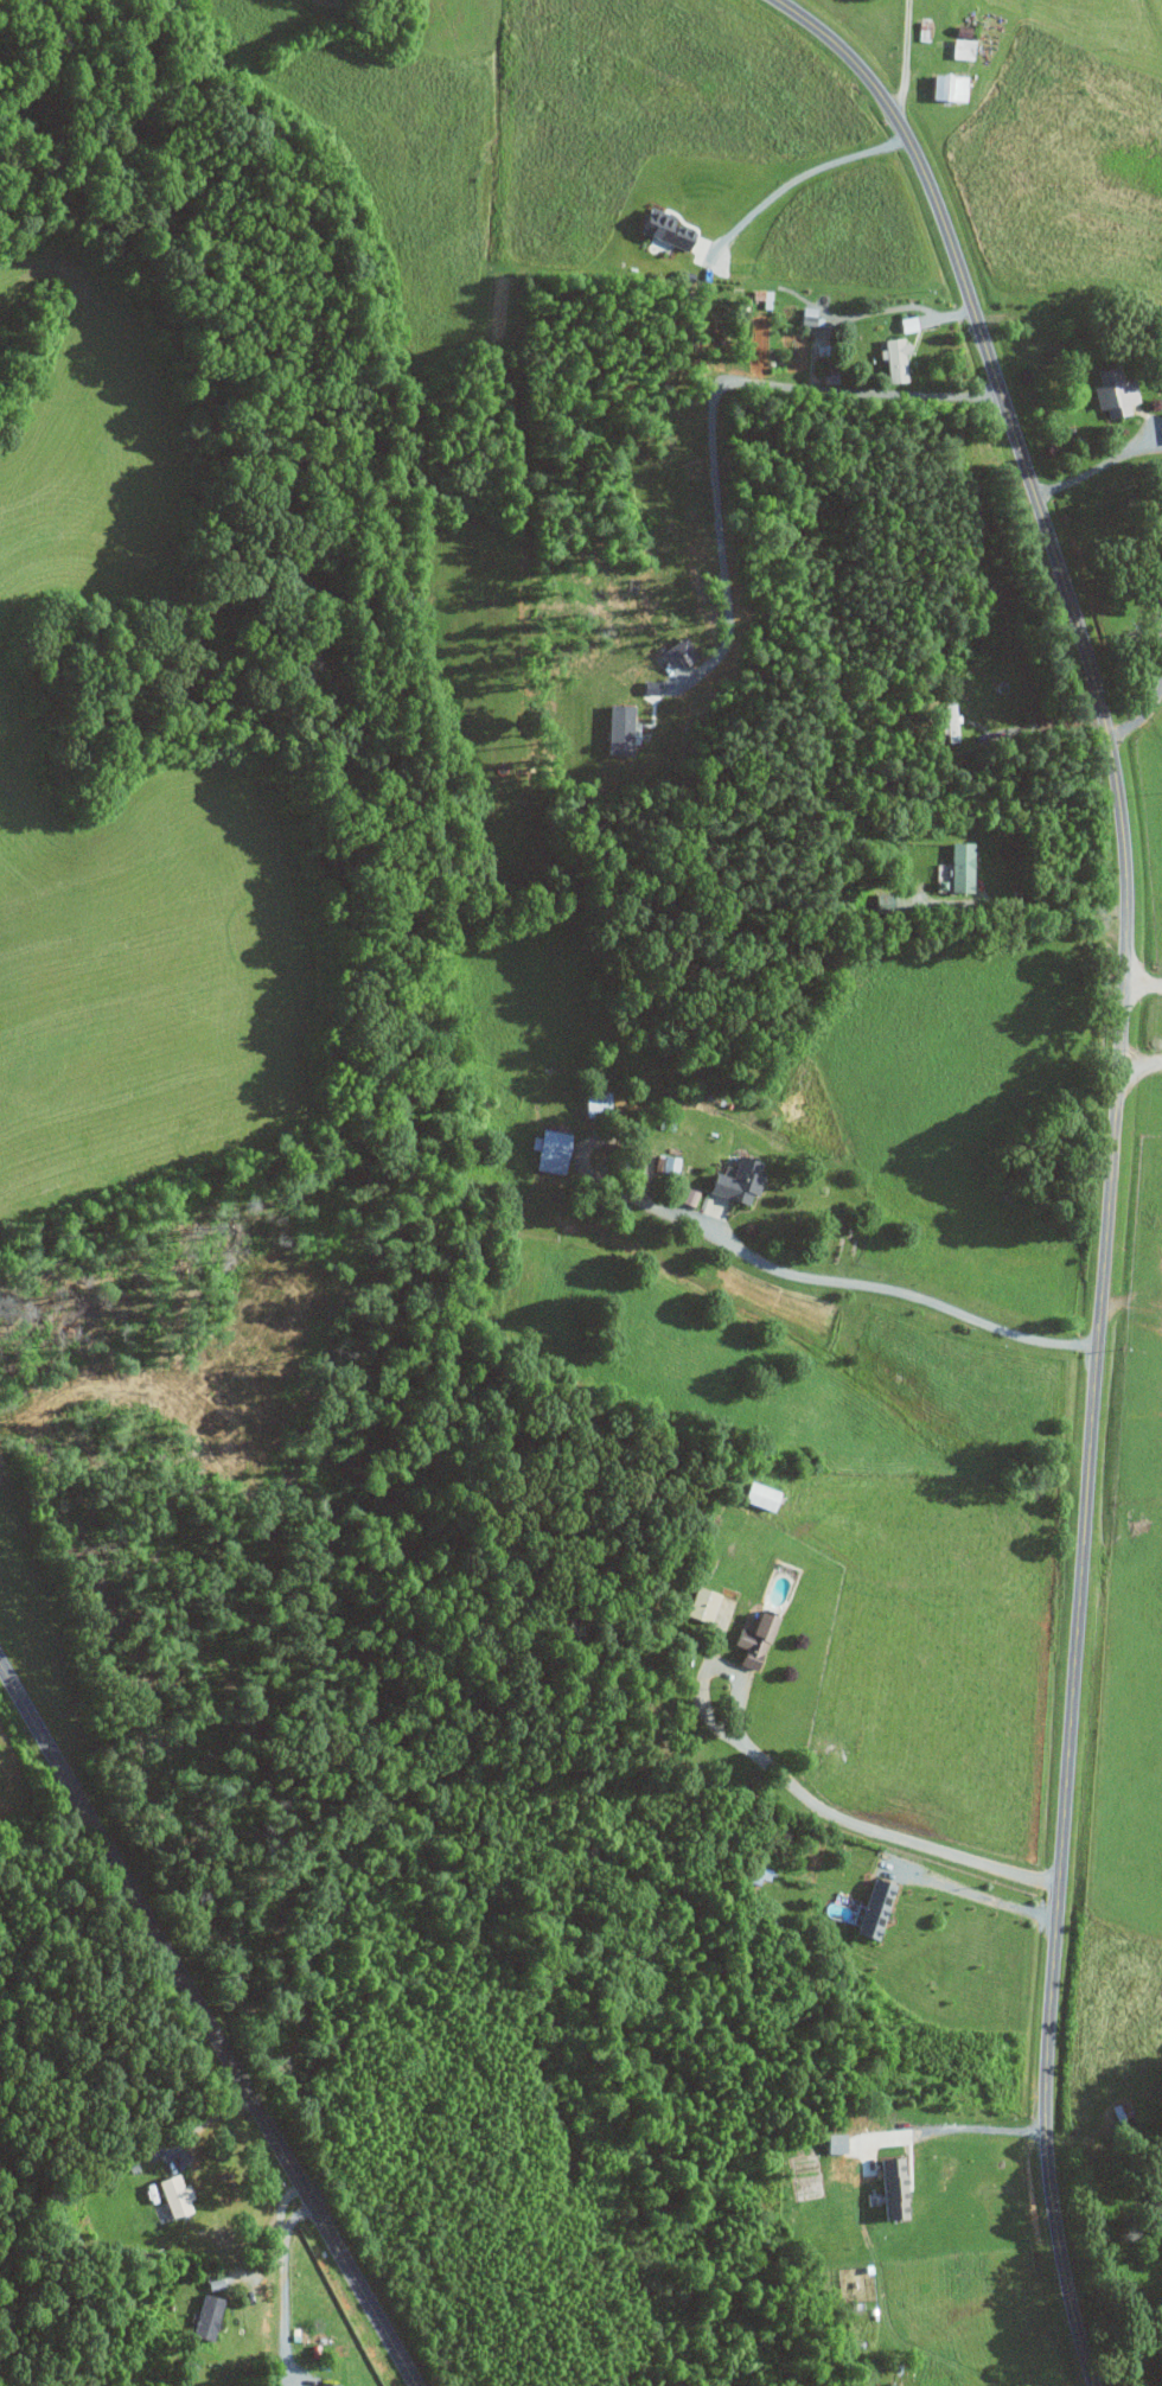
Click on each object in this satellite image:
building: (959, 47)
road: (906, 56)
building: (943, 87)
road: (803, 172)
building: (660, 229)
road: (883, 307)
building: (804, 315)
building: (892, 359)
building: (1109, 393)
road: (711, 404)
road: (1100, 464)
road: (1144, 712)
building: (947, 721)
building: (615, 728)
building: (957, 866)
road: (1047, 902)
road: (1141, 978)
road: (1139, 1065)
building: (592, 1101)
building: (544, 1149)
road: (1110, 1150)
building: (665, 1163)
building: (732, 1180)
road: (905, 1294)
road: (1130, 1299)
building: (754, 1494)
building: (698, 1603)
building: (751, 1639)
road: (806, 1795)
road: (973, 1894)
building: (868, 1909)
road: (204, 2030)
building: (1118, 2110)
road: (966, 2126)
building: (832, 2143)
building: (888, 2188)
building: (171, 2195)
road: (286, 2285)
building: (203, 2316)
building: (323, 2384)

